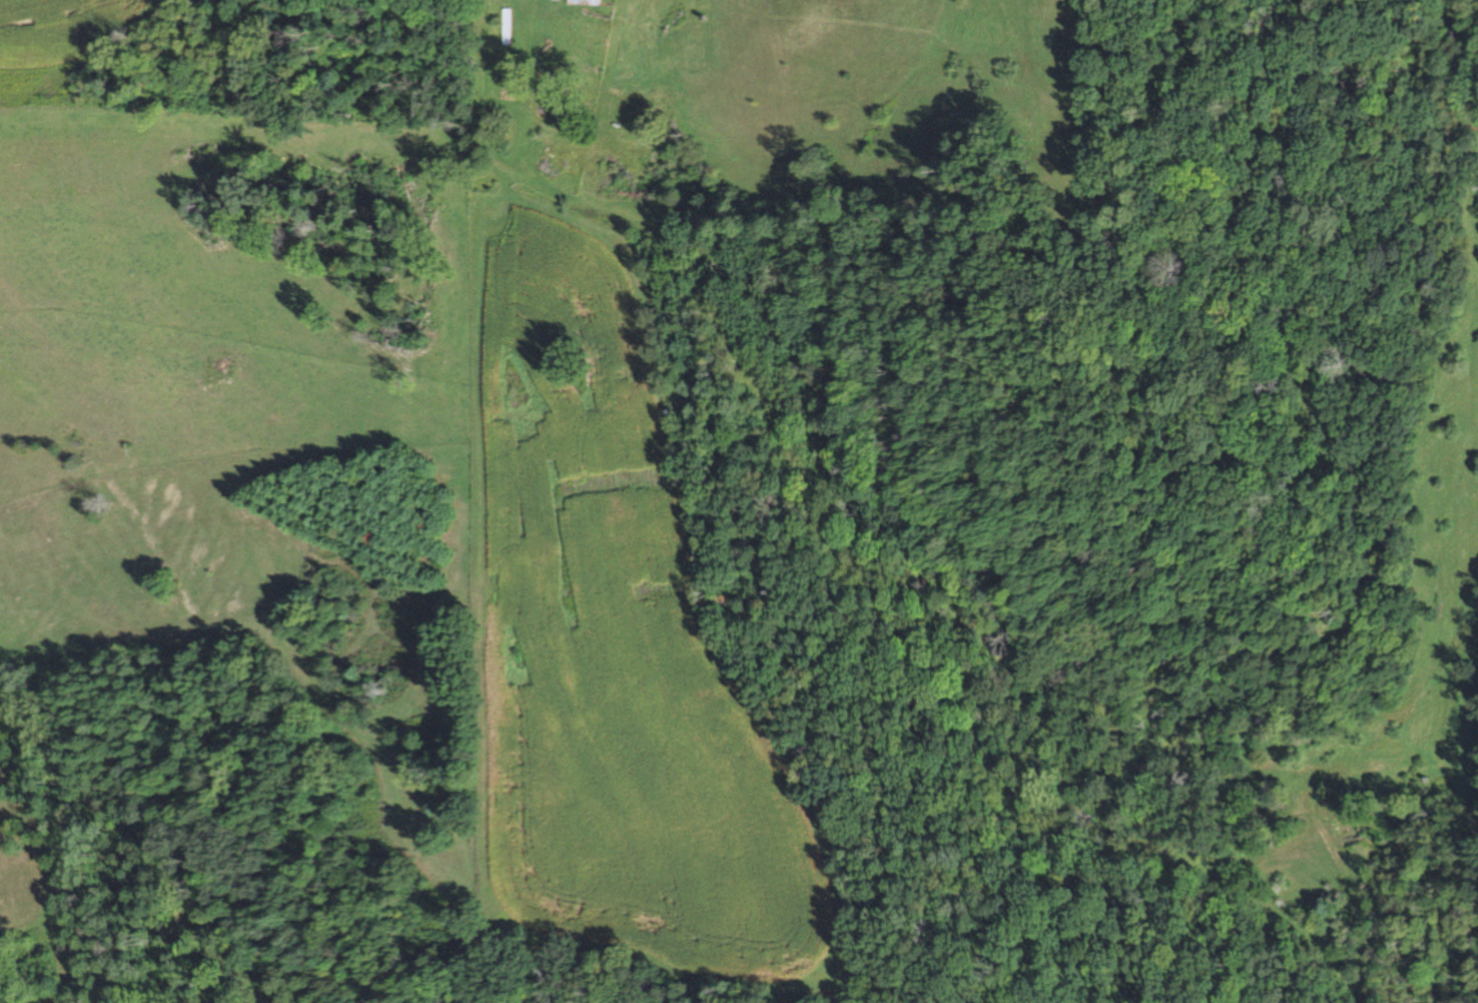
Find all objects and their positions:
building: (580, 2)
road: (467, 38)

